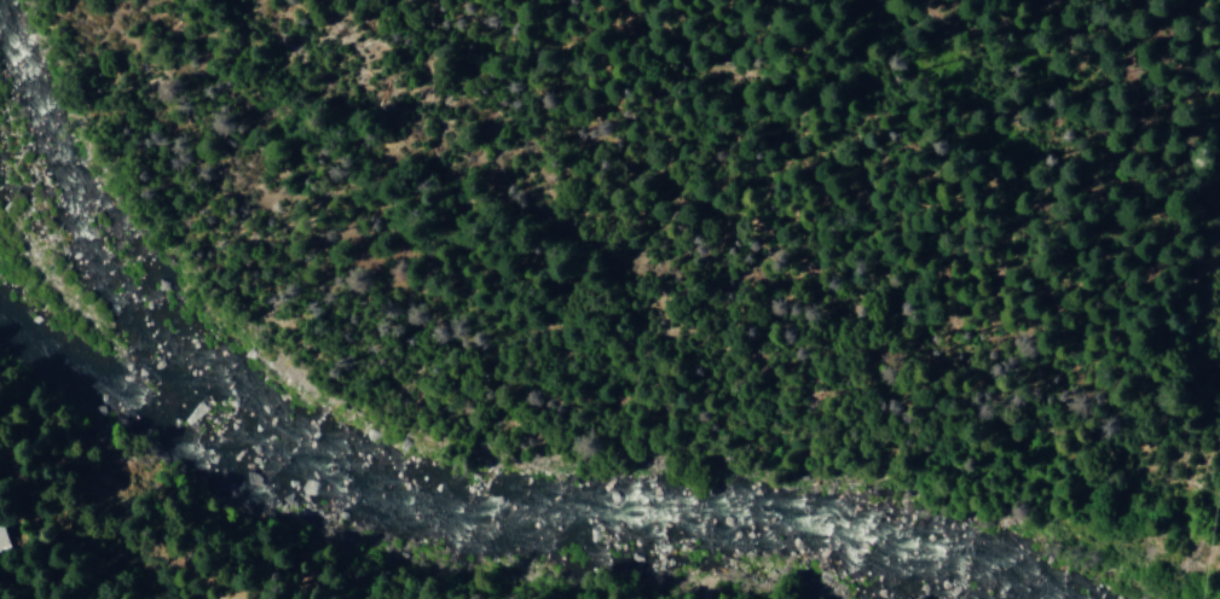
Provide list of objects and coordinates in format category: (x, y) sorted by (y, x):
river: (507, 524)
building: (0, 541)

